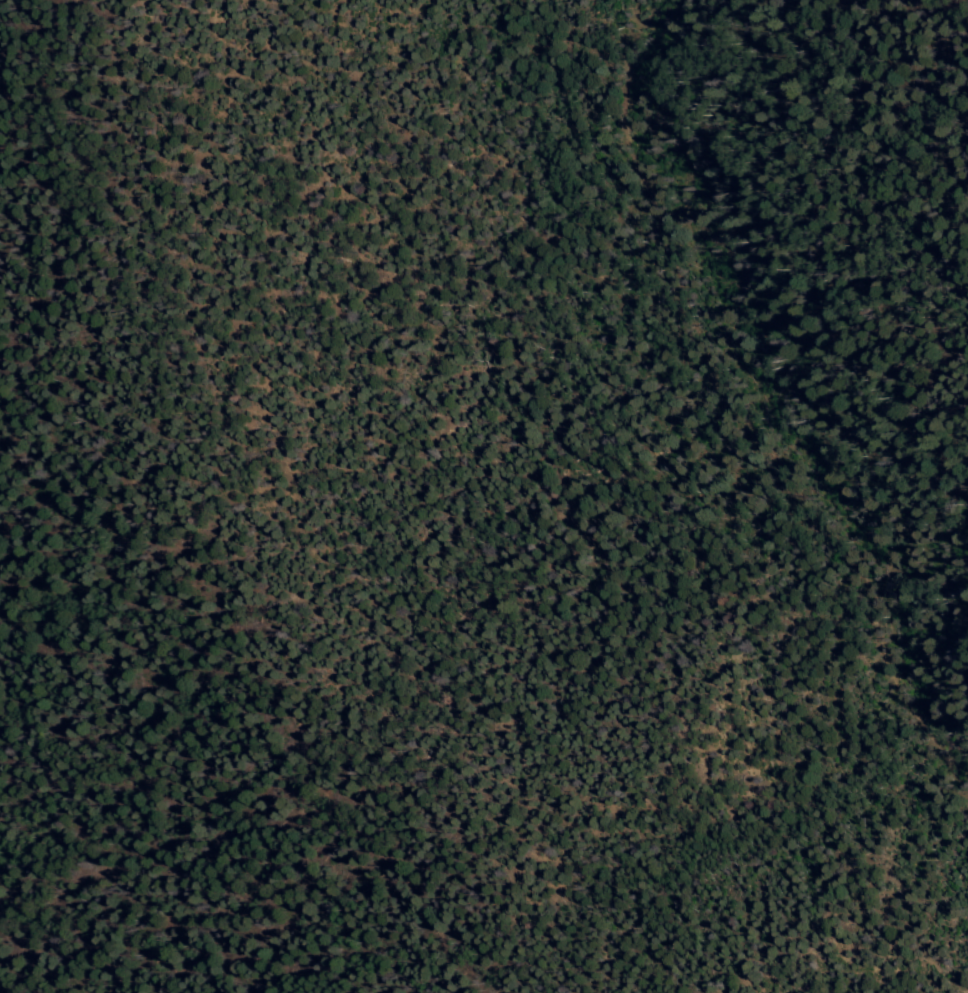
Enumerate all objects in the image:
road: (742, 432)

